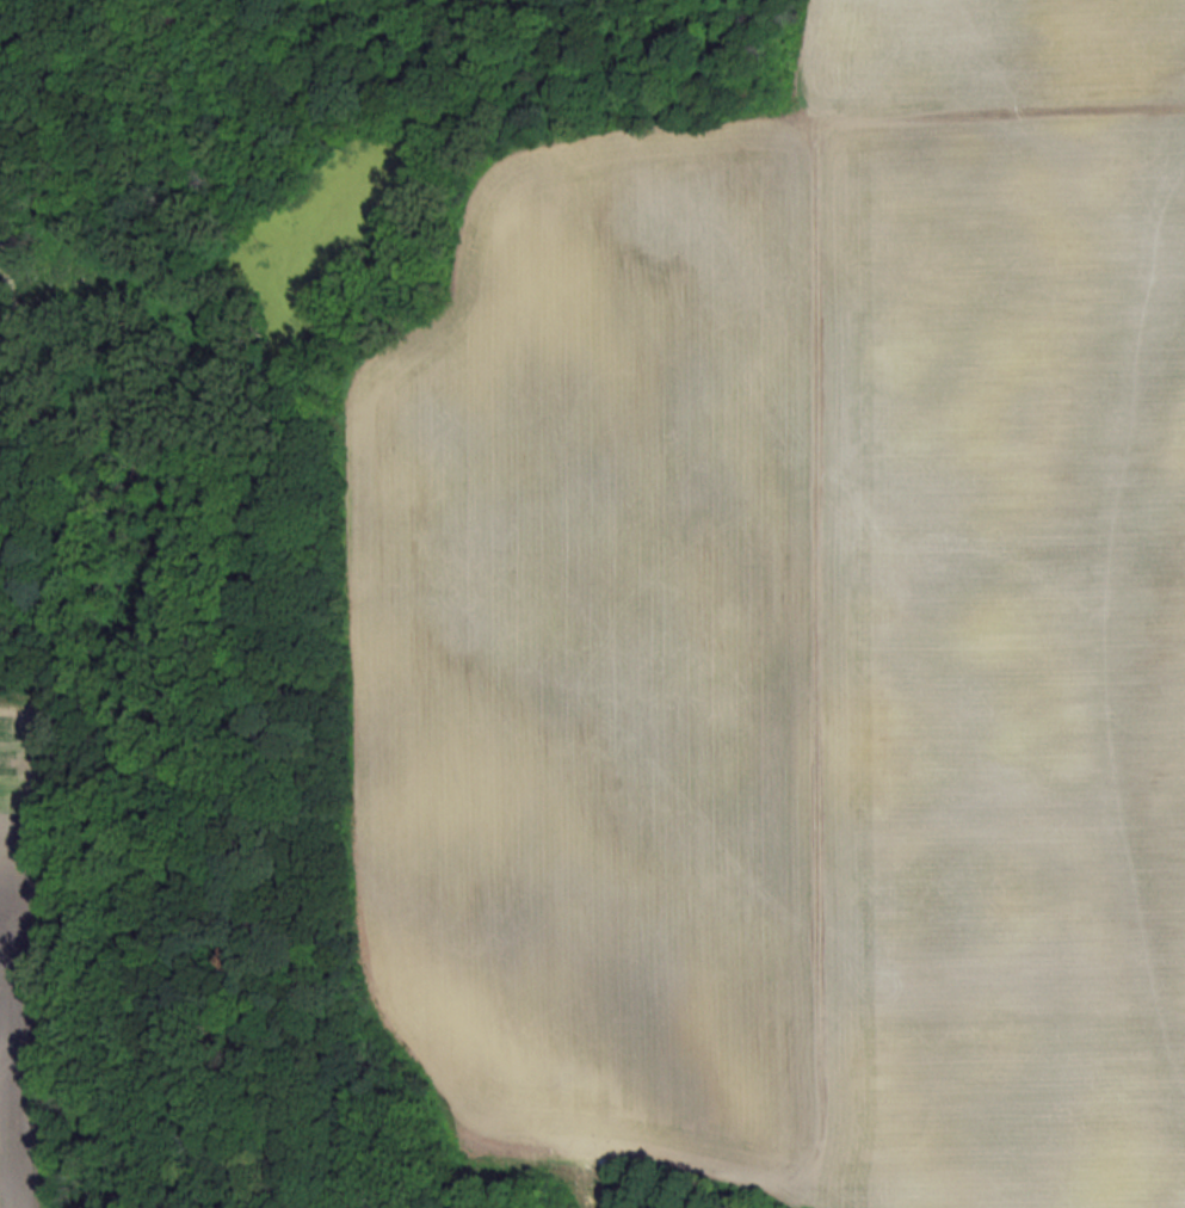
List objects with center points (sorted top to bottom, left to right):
crop: (794, 630)
crop: (18, 979)

